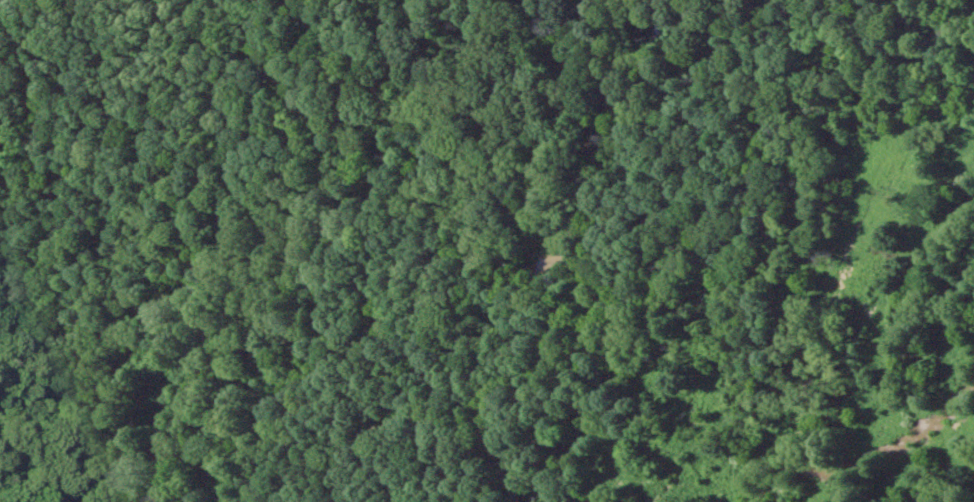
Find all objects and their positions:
river: (442, 115)
river: (228, 476)
river: (81, 499)

